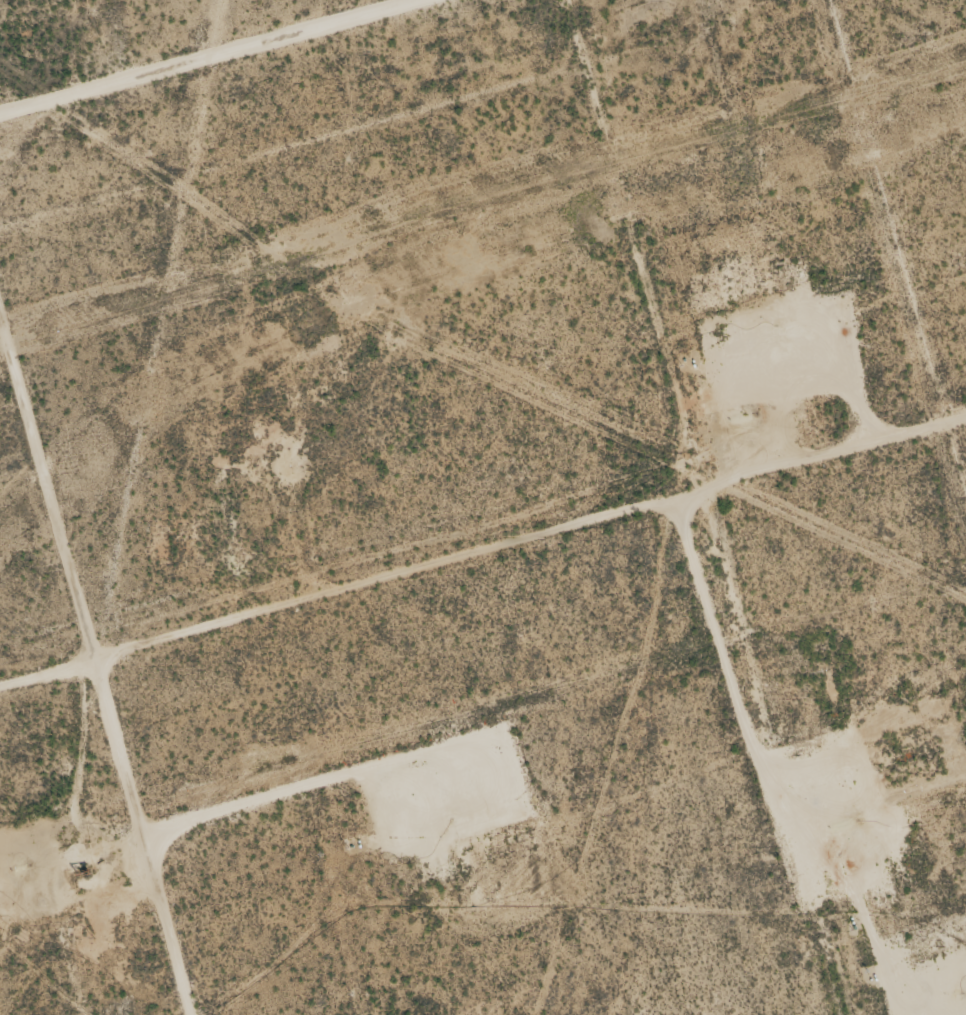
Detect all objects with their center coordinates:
road: (234, 64)
road: (68, 763)

